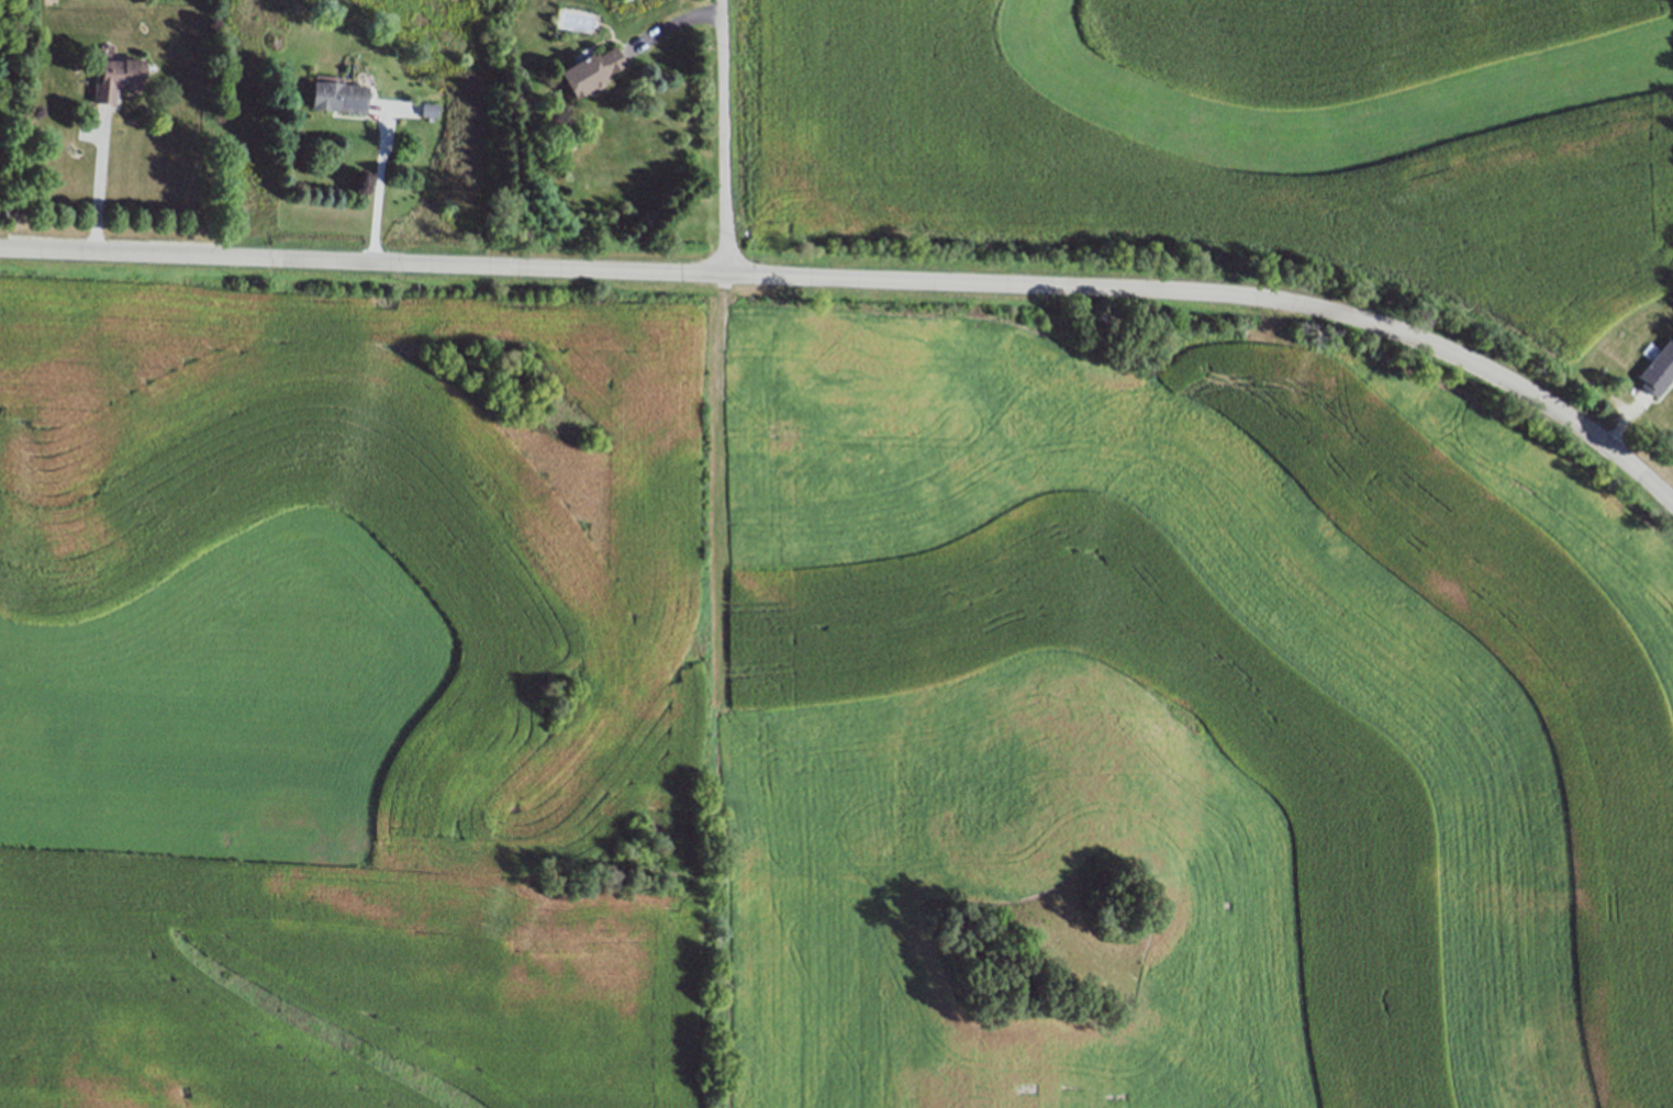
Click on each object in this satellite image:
building: (590, 74)
building: (118, 79)
building: (338, 98)
building: (430, 110)
building: (27, 127)
road: (723, 136)
crop: (1242, 145)
road: (378, 183)
road: (101, 186)
road: (863, 280)
building: (1659, 369)
crop: (808, 715)

